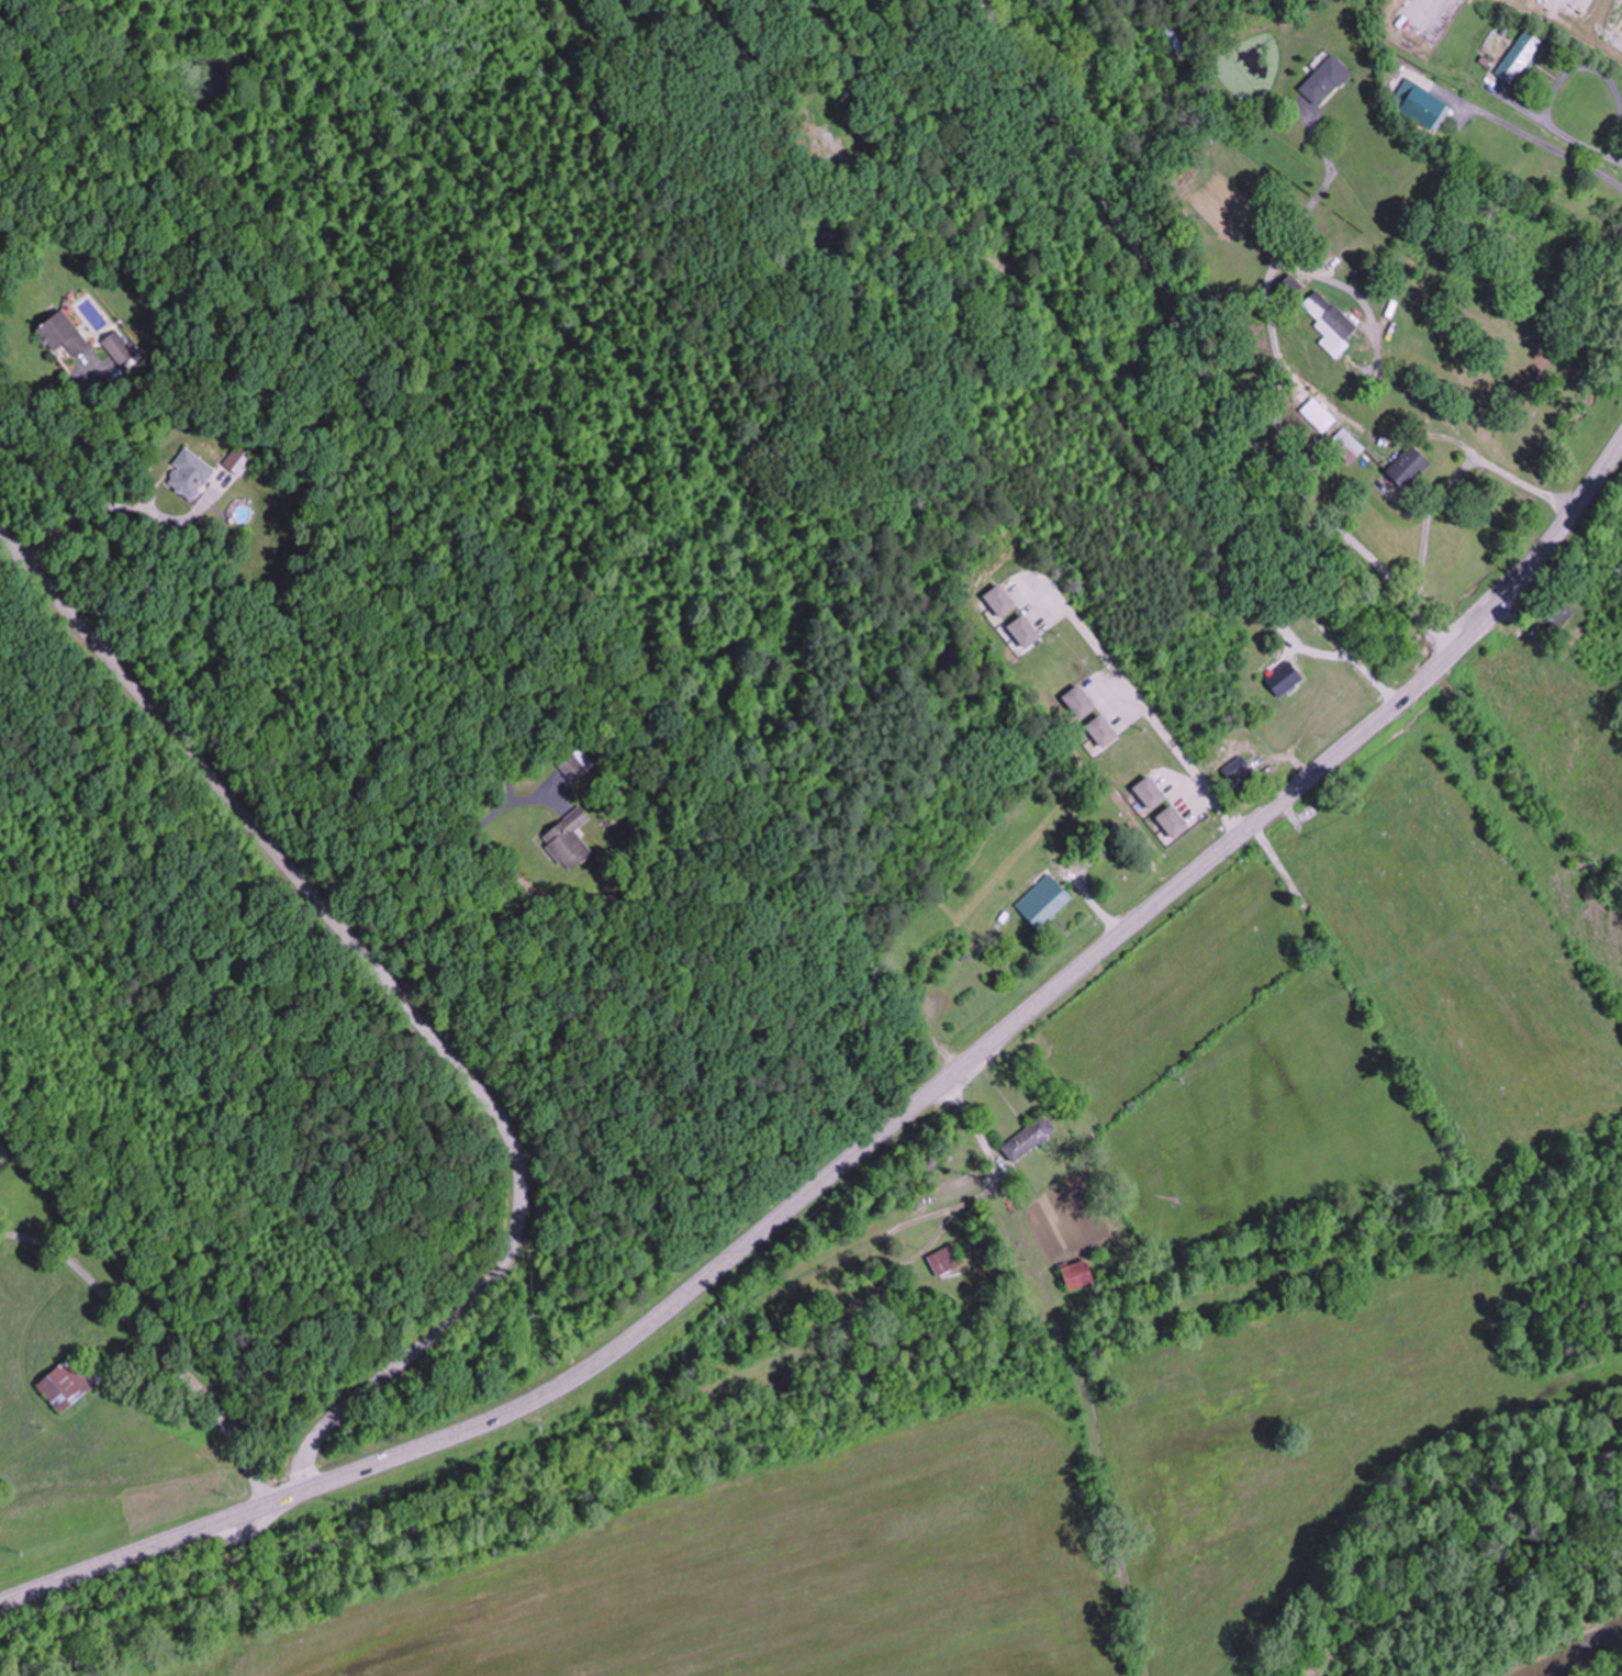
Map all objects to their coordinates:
building: (1173, 43)
building: (1518, 58)
building: (1323, 81)
building: (1419, 105)
road: (1515, 126)
building: (815, 137)
building: (1617, 226)
building: (1290, 286)
building: (1331, 321)
building: (60, 333)
building: (116, 347)
road: (1188, 347)
building: (1346, 445)
building: (1405, 466)
building: (187, 473)
building: (1554, 612)
building: (1279, 675)
building: (1237, 772)
building: (568, 839)
building: (1104, 846)
building: (1042, 901)
road: (401, 1001)
road: (883, 1129)
building: (1027, 1138)
road: (181, 1261)
building: (941, 1261)
building: (1075, 1275)
building: (65, 1383)
river: (1573, 1656)

